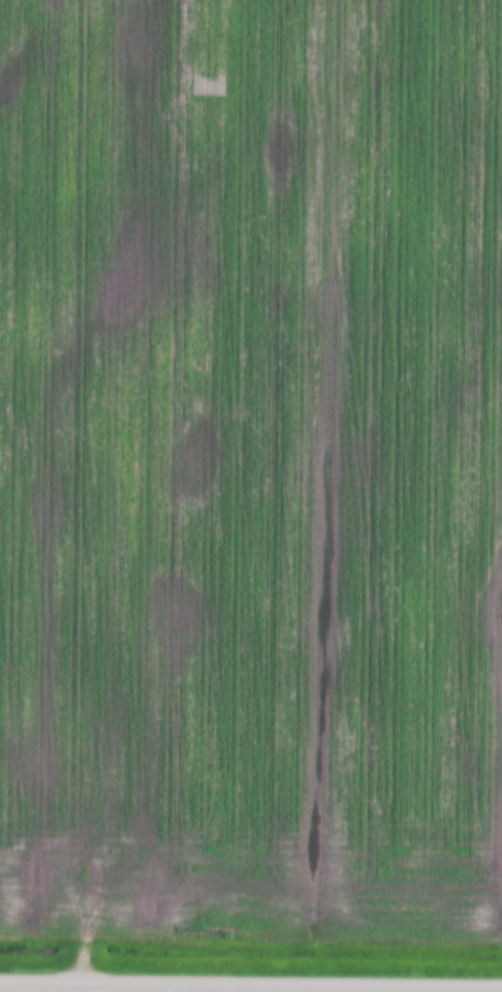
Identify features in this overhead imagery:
road: (224, 989)

